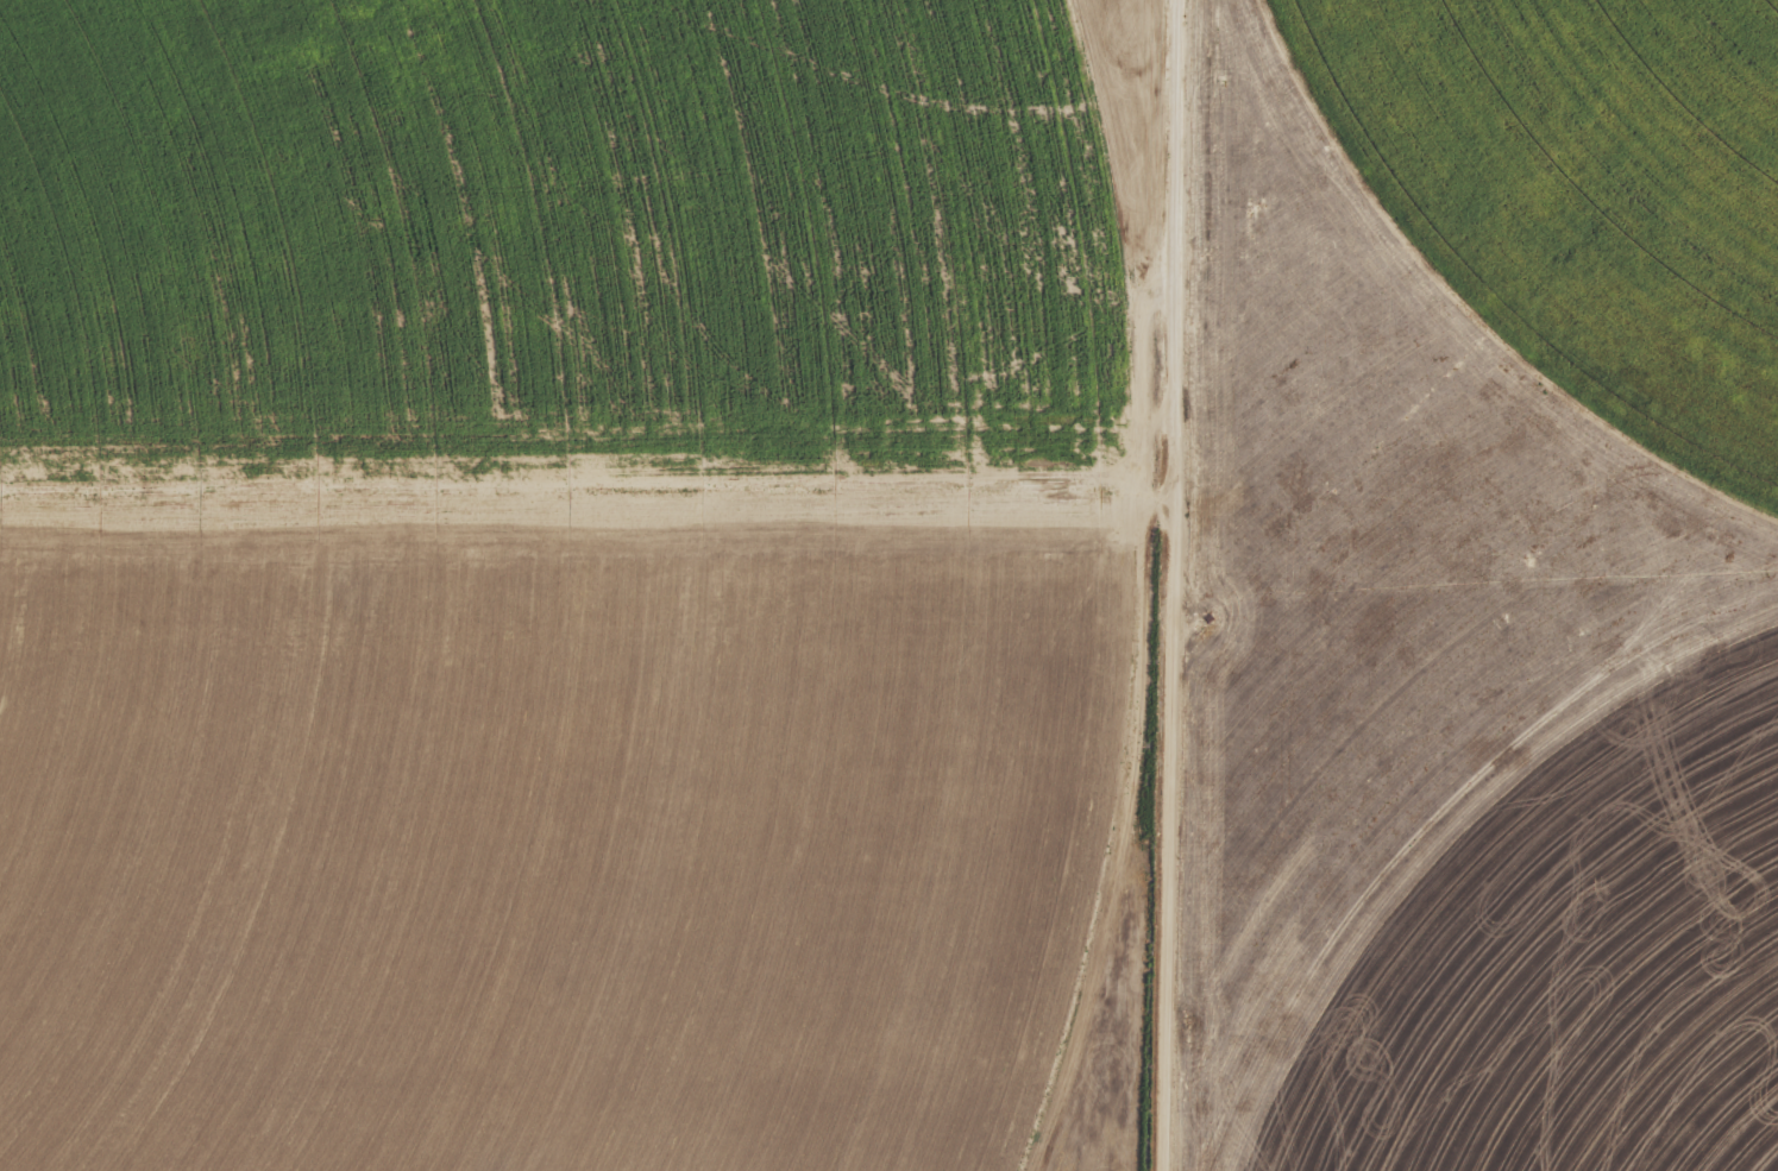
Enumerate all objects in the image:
road: (1170, 585)

